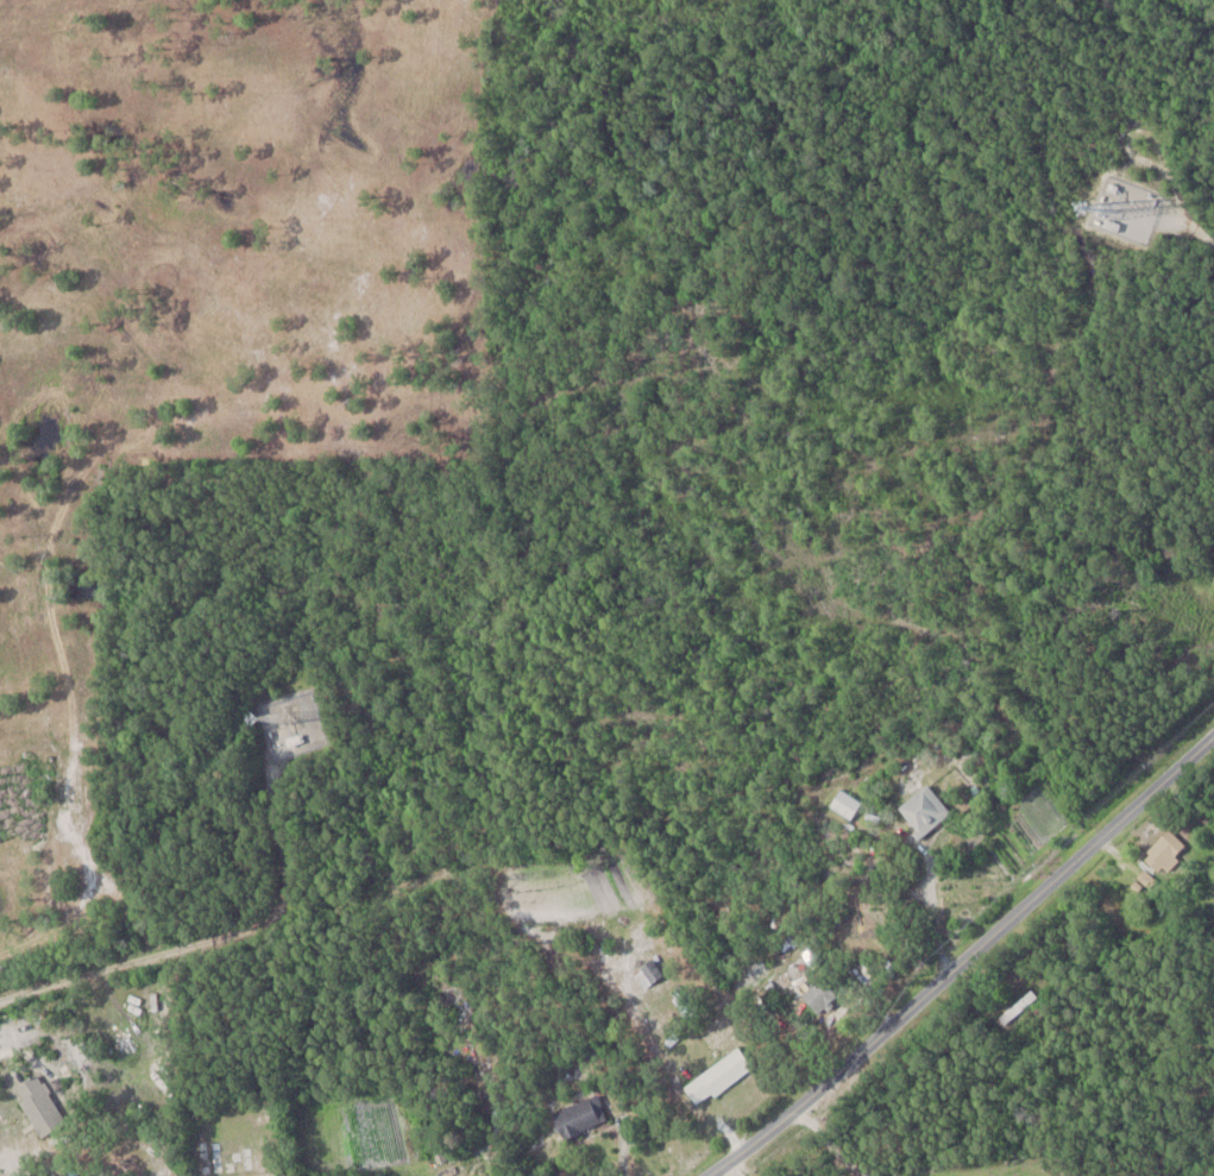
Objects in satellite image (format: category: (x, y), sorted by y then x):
building: (1164, 851)
road: (965, 958)
building: (648, 971)
building: (819, 994)
building: (1018, 1005)
building: (719, 1075)
building: (38, 1103)
building: (579, 1114)
building: (268, 1175)

